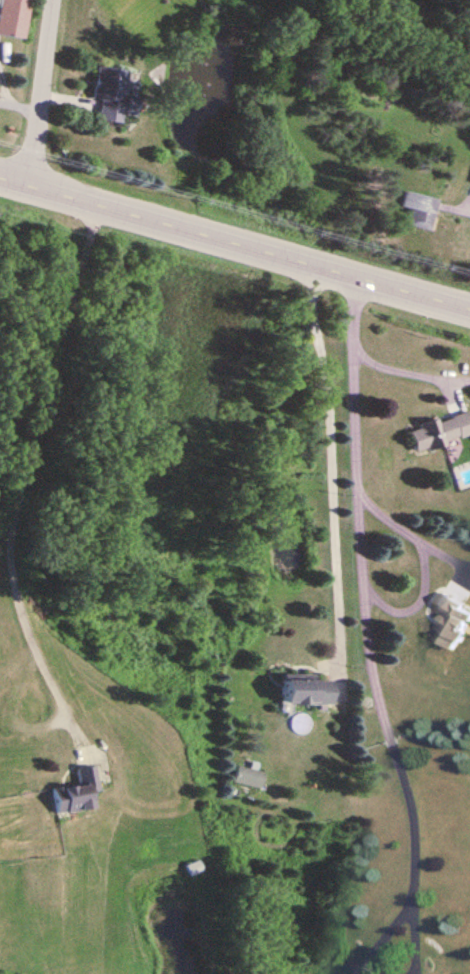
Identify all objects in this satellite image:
building: (12, 16)
road: (38, 92)
building: (110, 92)
building: (413, 207)
road: (458, 207)
road: (234, 243)
road: (377, 368)
building: (437, 429)
road: (332, 465)
road: (28, 469)
road: (418, 543)
road: (426, 611)
building: (449, 620)
road: (378, 643)
building: (303, 688)
building: (246, 775)
building: (74, 790)
building: (192, 865)
road: (399, 944)
road: (425, 945)

